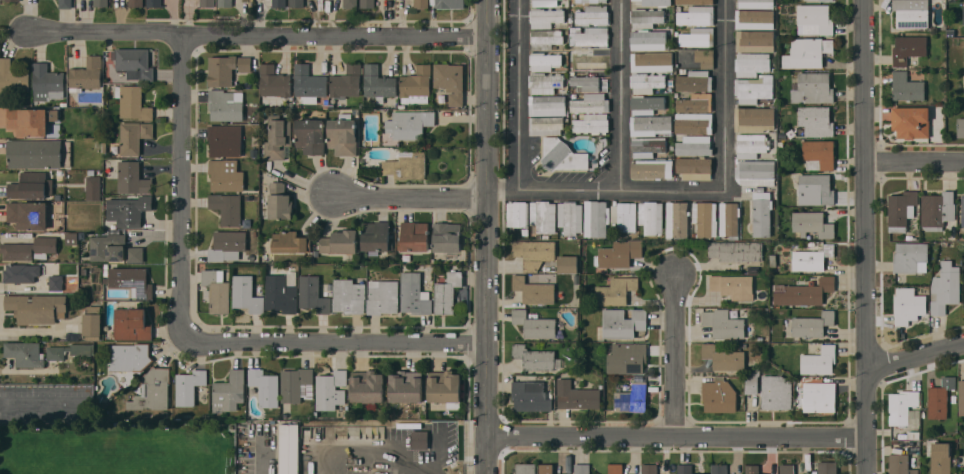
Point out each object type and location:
building: (12, 0)
building: (814, 0)
building: (591, 1)
building: (136, 2)
building: (696, 2)
building: (100, 3)
building: (154, 3)
building: (207, 3)
building: (225, 3)
building: (279, 3)
building: (296, 3)
building: (350, 3)
building: (367, 3)
building: (421, 3)
building: (450, 3)
building: (549, 3)
building: (650, 3)
building: (756, 3)
building: (65, 4)
building: (911, 13)
building: (963, 14)
building: (594, 15)
building: (697, 15)
building: (546, 17)
building: (646, 17)
building: (754, 18)
building: (816, 19)
road: (259, 35)
building: (589, 36)
building: (698, 37)
building: (546, 38)
building: (649, 39)
building: (755, 40)
building: (908, 48)
building: (808, 52)
building: (705, 57)
building: (589, 59)
building: (544, 61)
building: (652, 61)
building: (134, 63)
building: (752, 63)
building: (226, 69)
building: (86, 74)
building: (13, 77)
building: (274, 81)
building: (450, 81)
building: (586, 81)
building: (695, 81)
building: (545, 82)
building: (647, 82)
building: (47, 83)
building: (346, 83)
building: (378, 83)
building: (309, 84)
building: (416, 85)
building: (907, 87)
building: (754, 88)
building: (813, 88)
road: (726, 94)
road: (620, 96)
road: (523, 97)
building: (132, 102)
building: (695, 102)
building: (590, 103)
building: (646, 104)
building: (225, 105)
building: (548, 105)
building: (754, 118)
building: (31, 120)
building: (816, 120)
building: (911, 121)
building: (592, 123)
building: (693, 123)
building: (410, 124)
building: (650, 124)
building: (547, 125)
building: (960, 127)
building: (343, 134)
building: (310, 135)
building: (133, 136)
building: (277, 137)
building: (225, 139)
building: (751, 144)
building: (694, 145)
building: (647, 146)
building: (34, 153)
building: (818, 154)
building: (562, 155)
building: (406, 165)
road: (915, 165)
building: (695, 167)
building: (652, 168)
building: (756, 172)
building: (226, 174)
building: (132, 178)
building: (31, 185)
road: (185, 186)
building: (93, 187)
building: (816, 189)
road: (607, 192)
road: (406, 194)
building: (280, 201)
building: (227, 208)
building: (901, 209)
building: (937, 209)
building: (129, 210)
building: (963, 210)
building: (762, 212)
building: (517, 213)
building: (28, 214)
building: (624, 215)
building: (543, 216)
building: (570, 217)
building: (651, 217)
building: (596, 218)
building: (705, 218)
building: (677, 219)
building: (729, 219)
building: (812, 224)
building: (376, 236)
building: (414, 236)
building: (447, 236)
road: (487, 237)
road: (868, 237)
building: (71, 238)
building: (291, 241)
building: (340, 241)
building: (227, 245)
building: (107, 247)
building: (30, 248)
building: (735, 251)
building: (534, 252)
building: (135, 254)
building: (617, 254)
building: (910, 256)
building: (812, 258)
building: (568, 263)
building: (47, 268)
building: (16, 273)
building: (131, 281)
building: (56, 282)
building: (733, 285)
building: (945, 287)
building: (217, 290)
building: (534, 290)
building: (615, 291)
building: (804, 291)
building: (447, 292)
building: (246, 294)
building: (313, 294)
building: (281, 295)
building: (348, 295)
building: (383, 296)
building: (414, 297)
building: (908, 305)
building: (37, 307)
building: (623, 322)
building: (92, 323)
building: (131, 324)
building: (534, 324)
building: (725, 324)
building: (812, 324)
road: (336, 339)
building: (82, 349)
building: (56, 352)
building: (25, 353)
road: (674, 353)
road: (918, 355)
building: (129, 357)
building: (534, 357)
building: (627, 358)
building: (724, 358)
building: (819, 359)
building: (752, 381)
building: (296, 384)
building: (189, 386)
building: (265, 386)
building: (367, 386)
building: (406, 386)
building: (445, 387)
building: (331, 388)
building: (153, 389)
building: (229, 391)
building: (776, 392)
building: (578, 395)
building: (719, 395)
building: (530, 396)
building: (632, 396)
building: (819, 396)
building: (961, 397)
building: (939, 398)
road: (44, 403)
parking lot: (46, 403)
building: (902, 406)
road: (673, 432)
park: (102, 437)
building: (419, 439)
building: (289, 449)
road: (381, 449)
road: (265, 452)
building: (940, 458)
building: (900, 464)
building: (827, 467)
building: (525, 468)
building: (546, 468)
building: (582, 468)
building: (615, 468)
building: (649, 468)
building: (786, 468)
building: (686, 469)
building: (719, 469)
building: (752, 469)
building: (561, 473)

